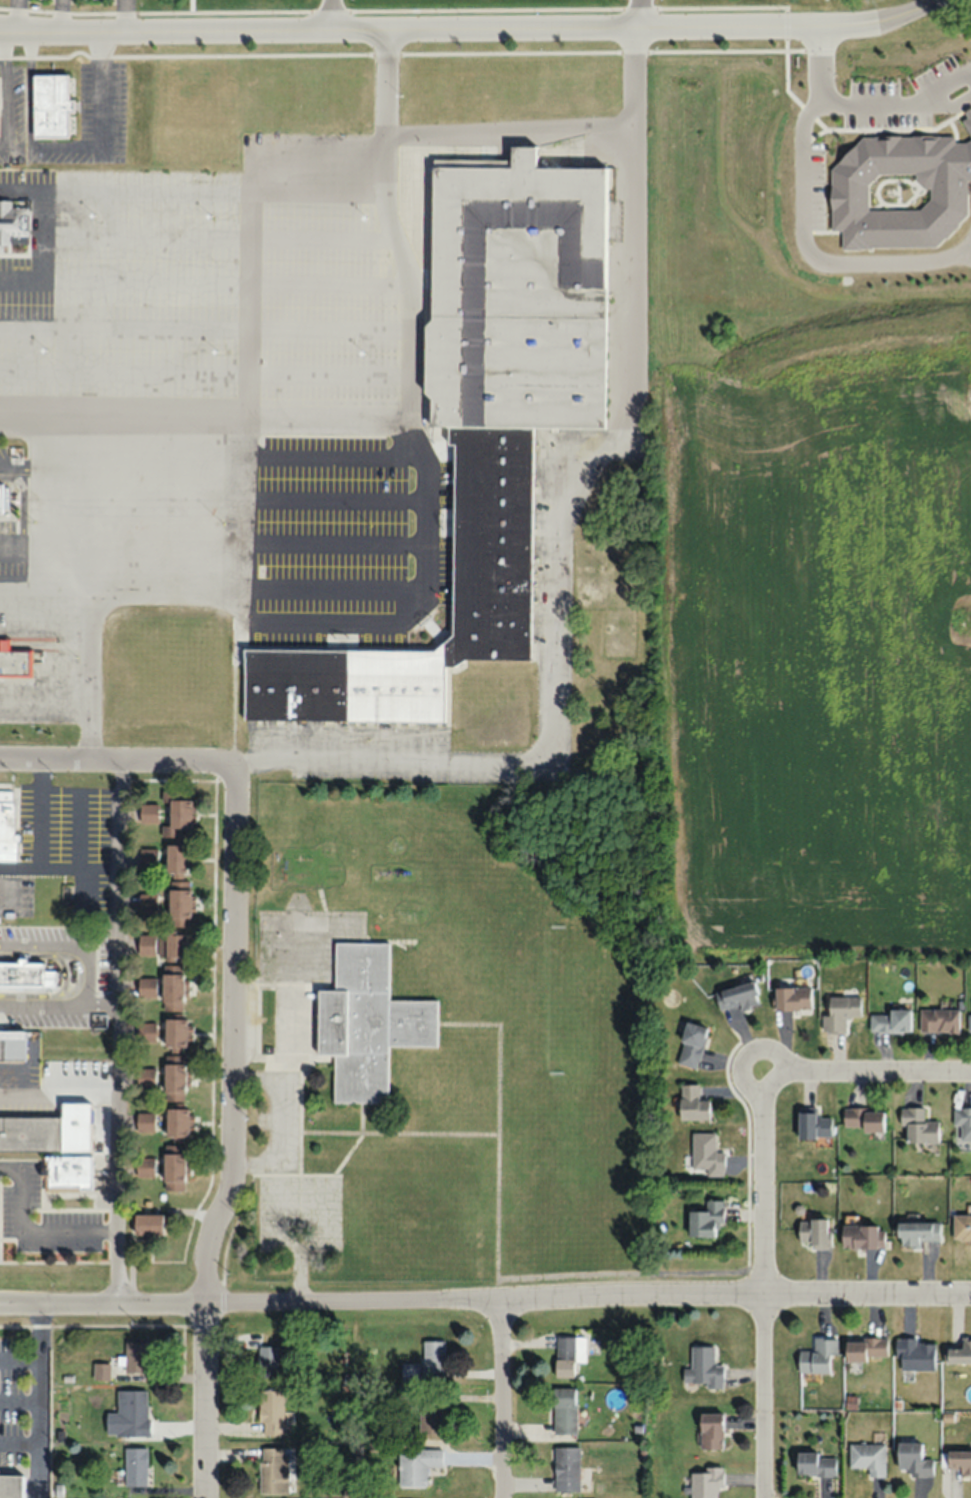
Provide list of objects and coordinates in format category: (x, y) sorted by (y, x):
road: (393, 8)
road: (638, 13)
road: (330, 14)
road: (869, 21)
road: (717, 26)
road: (318, 29)
road: (865, 102)
building: (50, 105)
road: (508, 130)
building: (309, 160)
building: (13, 222)
road: (813, 255)
road: (248, 256)
building: (517, 294)
road: (43, 416)
road: (272, 418)
building: (1, 496)
road: (552, 538)
building: (491, 542)
road: (345, 621)
building: (14, 663)
road: (120, 763)
building: (177, 814)
building: (6, 825)
road: (38, 856)
building: (177, 859)
road: (19, 867)
building: (179, 903)
road: (119, 905)
building: (174, 945)
road: (61, 948)
building: (22, 974)
building: (173, 988)
building: (737, 997)
building: (792, 998)
road: (35, 1000)
building: (840, 1012)
building: (364, 1019)
building: (938, 1020)
building: (891, 1021)
building: (969, 1023)
building: (175, 1035)
building: (11, 1045)
building: (691, 1045)
road: (866, 1070)
road: (299, 1075)
building: (174, 1078)
road: (106, 1097)
building: (692, 1103)
building: (863, 1119)
building: (963, 1121)
building: (177, 1122)
road: (497, 1122)
building: (815, 1124)
building: (918, 1126)
building: (31, 1133)
road: (232, 1141)
road: (745, 1146)
road: (298, 1152)
building: (707, 1153)
building: (174, 1170)
building: (69, 1171)
road: (272, 1173)
road: (115, 1198)
parking lot: (297, 1214)
building: (705, 1219)
building: (148, 1224)
building: (961, 1227)
building: (814, 1232)
building: (917, 1232)
road: (27, 1234)
building: (863, 1236)
road: (299, 1244)
road: (299, 1271)
road: (624, 1272)
road: (762, 1284)
road: (485, 1296)
building: (866, 1349)
building: (957, 1352)
building: (569, 1355)
building: (915, 1355)
building: (433, 1356)
building: (817, 1356)
building: (136, 1357)
road: (20, 1358)
building: (267, 1361)
building: (703, 1369)
building: (410, 1371)
road: (501, 1397)
road: (41, 1398)
road: (21, 1401)
building: (564, 1411)
building: (132, 1413)
building: (271, 1413)
building: (431, 1418)
building: (711, 1431)
road: (21, 1444)
building: (868, 1458)
building: (913, 1460)
building: (959, 1461)
building: (815, 1465)
building: (135, 1466)
building: (416, 1466)
building: (566, 1468)
building: (274, 1470)
building: (705, 1482)
building: (11, 1486)

